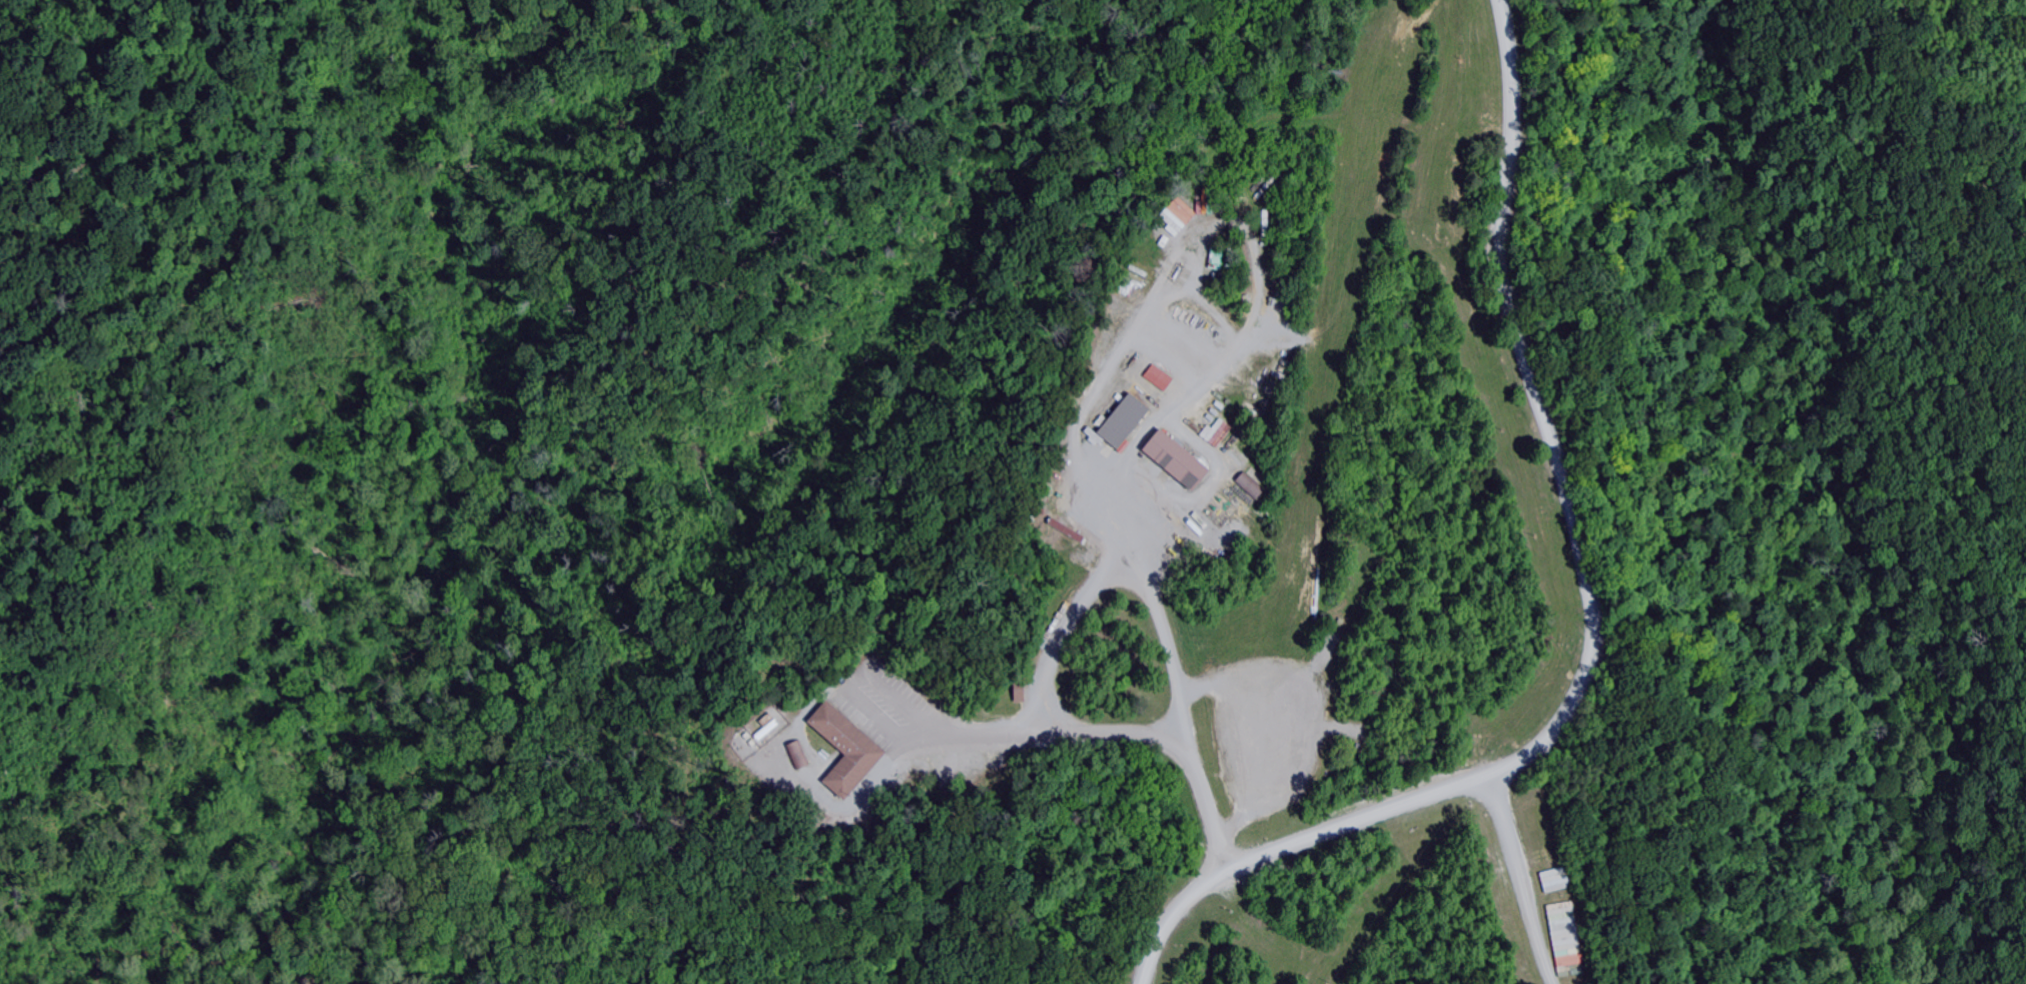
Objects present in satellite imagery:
building: (1202, 202)
building: (1177, 215)
road: (1138, 330)
building: (1157, 377)
building: (1121, 421)
building: (1217, 431)
building: (1174, 460)
building: (1248, 484)
road: (1125, 567)
road: (1595, 616)
building: (1022, 688)
road: (1109, 730)
building: (848, 749)
road: (782, 754)
building: (798, 754)
building: (956, 765)
road: (1519, 879)

